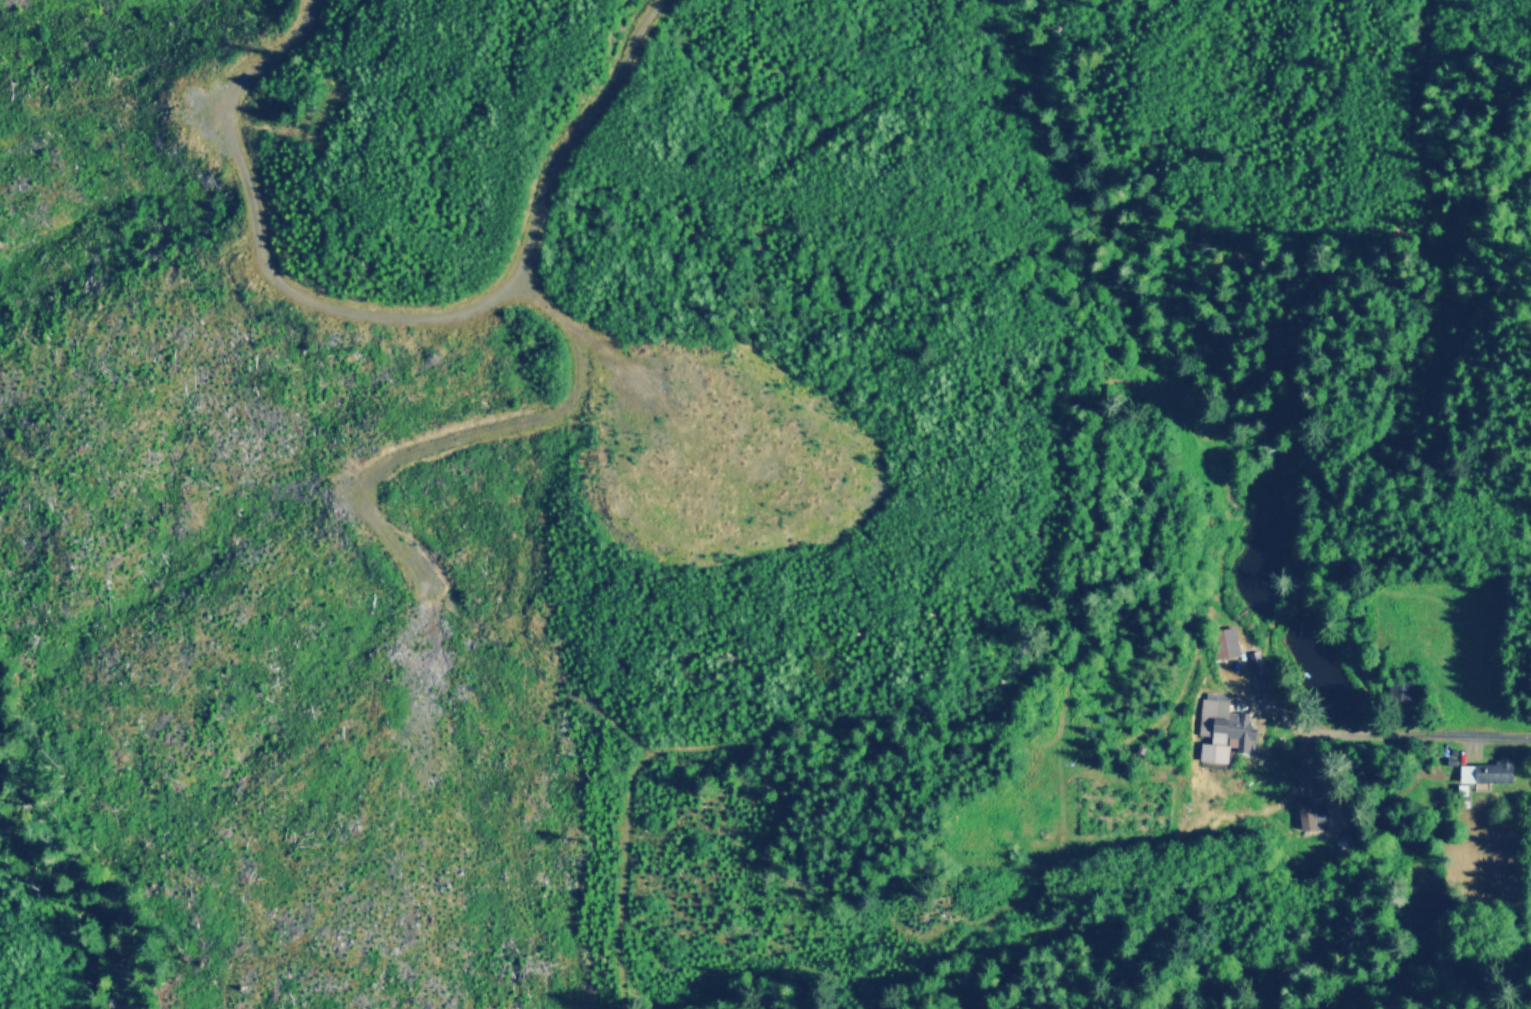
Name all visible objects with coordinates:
road: (438, 313)
building: (1231, 645)
building: (1405, 694)
building: (1229, 733)
road: (1417, 735)
building: (1494, 774)
building: (1314, 819)

